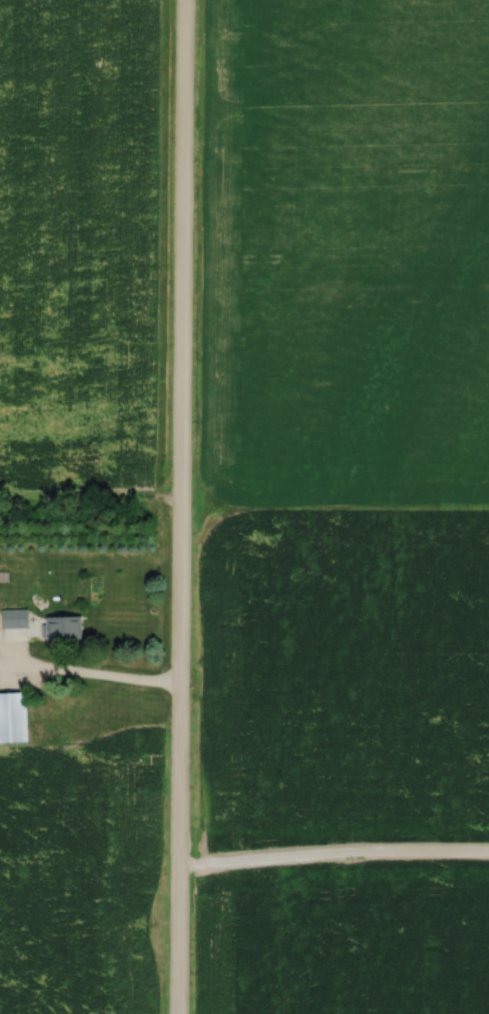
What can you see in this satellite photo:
road: (179, 506)
building: (44, 625)
road: (88, 674)
building: (14, 717)
road: (332, 858)

